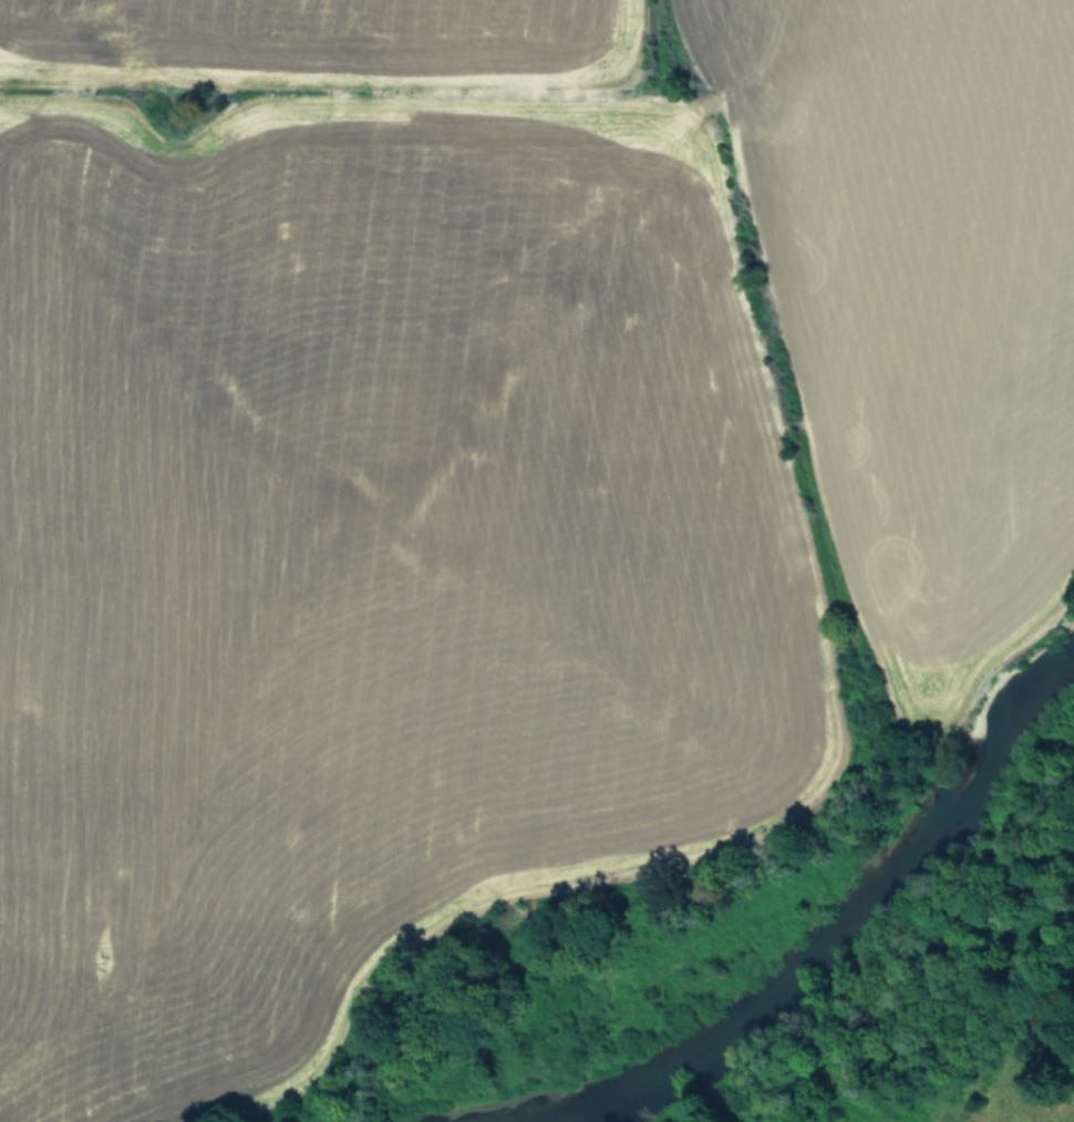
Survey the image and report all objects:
crop: (479, 463)
crop: (984, 1119)

